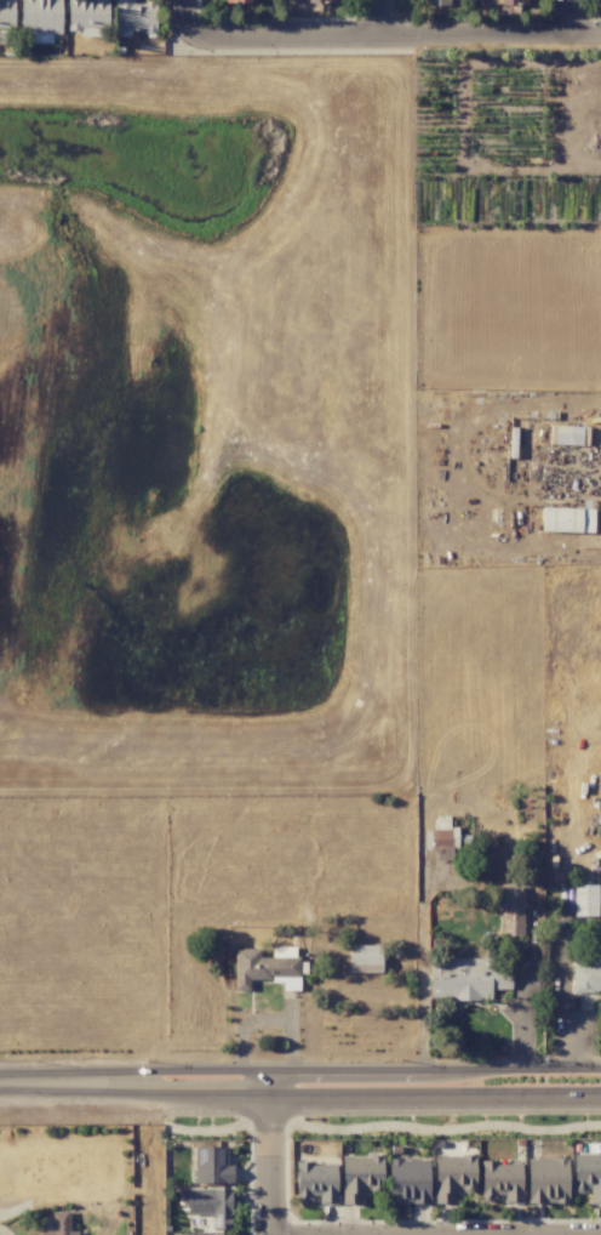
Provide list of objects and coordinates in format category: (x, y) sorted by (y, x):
building: (236, 0)
building: (314, 1)
building: (513, 1)
building: (440, 2)
building: (6, 15)
building: (87, 16)
building: (134, 16)
road: (569, 16)
road: (189, 18)
road: (382, 18)
building: (40, 19)
road: (395, 36)
building: (567, 519)
building: (441, 837)
building: (585, 900)
building: (511, 912)
building: (365, 958)
building: (265, 967)
building: (586, 975)
building: (467, 978)
road: (370, 1068)
road: (70, 1079)
road: (368, 1094)
road: (273, 1151)
building: (212, 1165)
building: (588, 1174)
building: (453, 1176)
building: (360, 1177)
building: (408, 1180)
building: (500, 1180)
building: (546, 1180)
building: (316, 1182)
building: (210, 1205)
building: (59, 1224)

